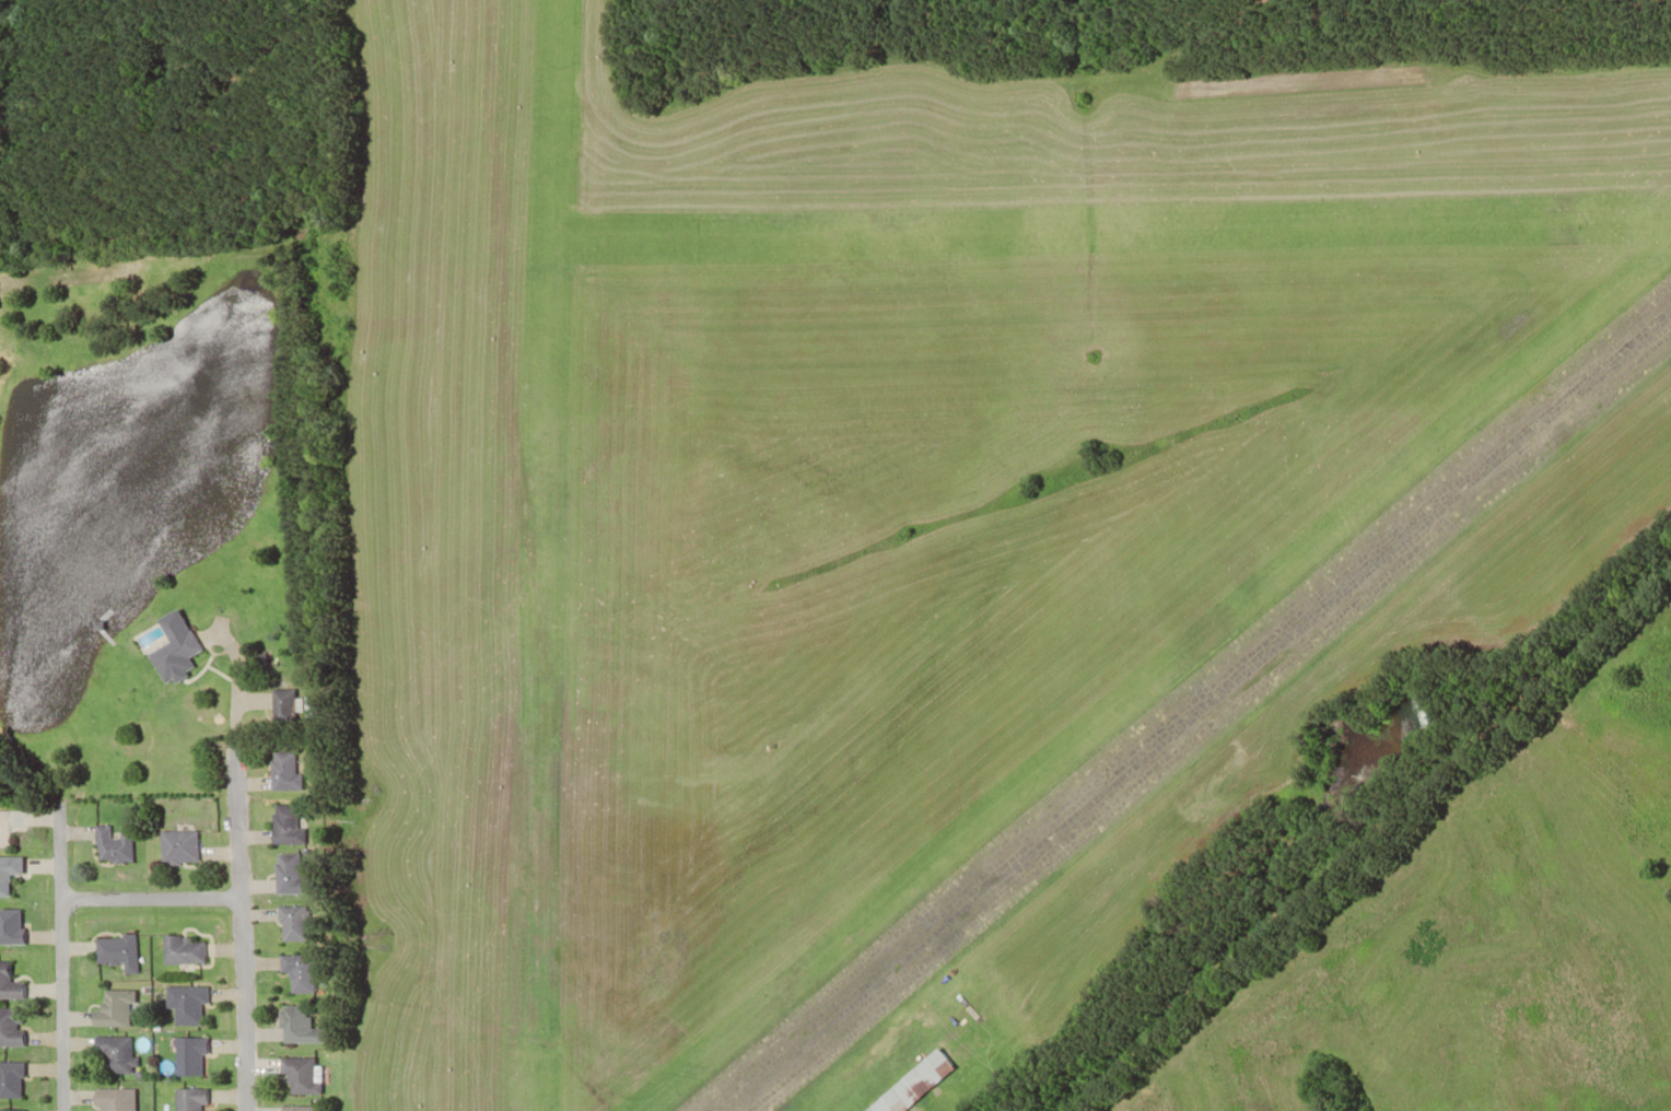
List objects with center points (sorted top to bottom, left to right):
airport taxiway: (1111, 226)
building: (296, 517)
airport runway: (548, 554)
building: (192, 650)
building: (319, 675)
building: (296, 710)
airport runway: (1196, 710)
building: (299, 770)
building: (300, 826)
building: (14, 827)
building: (128, 845)
building: (195, 845)
building: (303, 873)
building: (14, 874)
road: (157, 898)
building: (304, 922)
road: (249, 932)
building: (196, 948)
building: (129, 951)
road: (67, 957)
building: (308, 971)
building: (15, 983)
building: (197, 1003)
building: (128, 1008)
building: (308, 1025)
building: (16, 1026)
building: (126, 1052)
building: (199, 1054)
building: (311, 1074)
building: (16, 1078)
building: (924, 1084)
building: (126, 1098)
building: (199, 1098)
building: (311, 1108)
building: (16, 1109)

